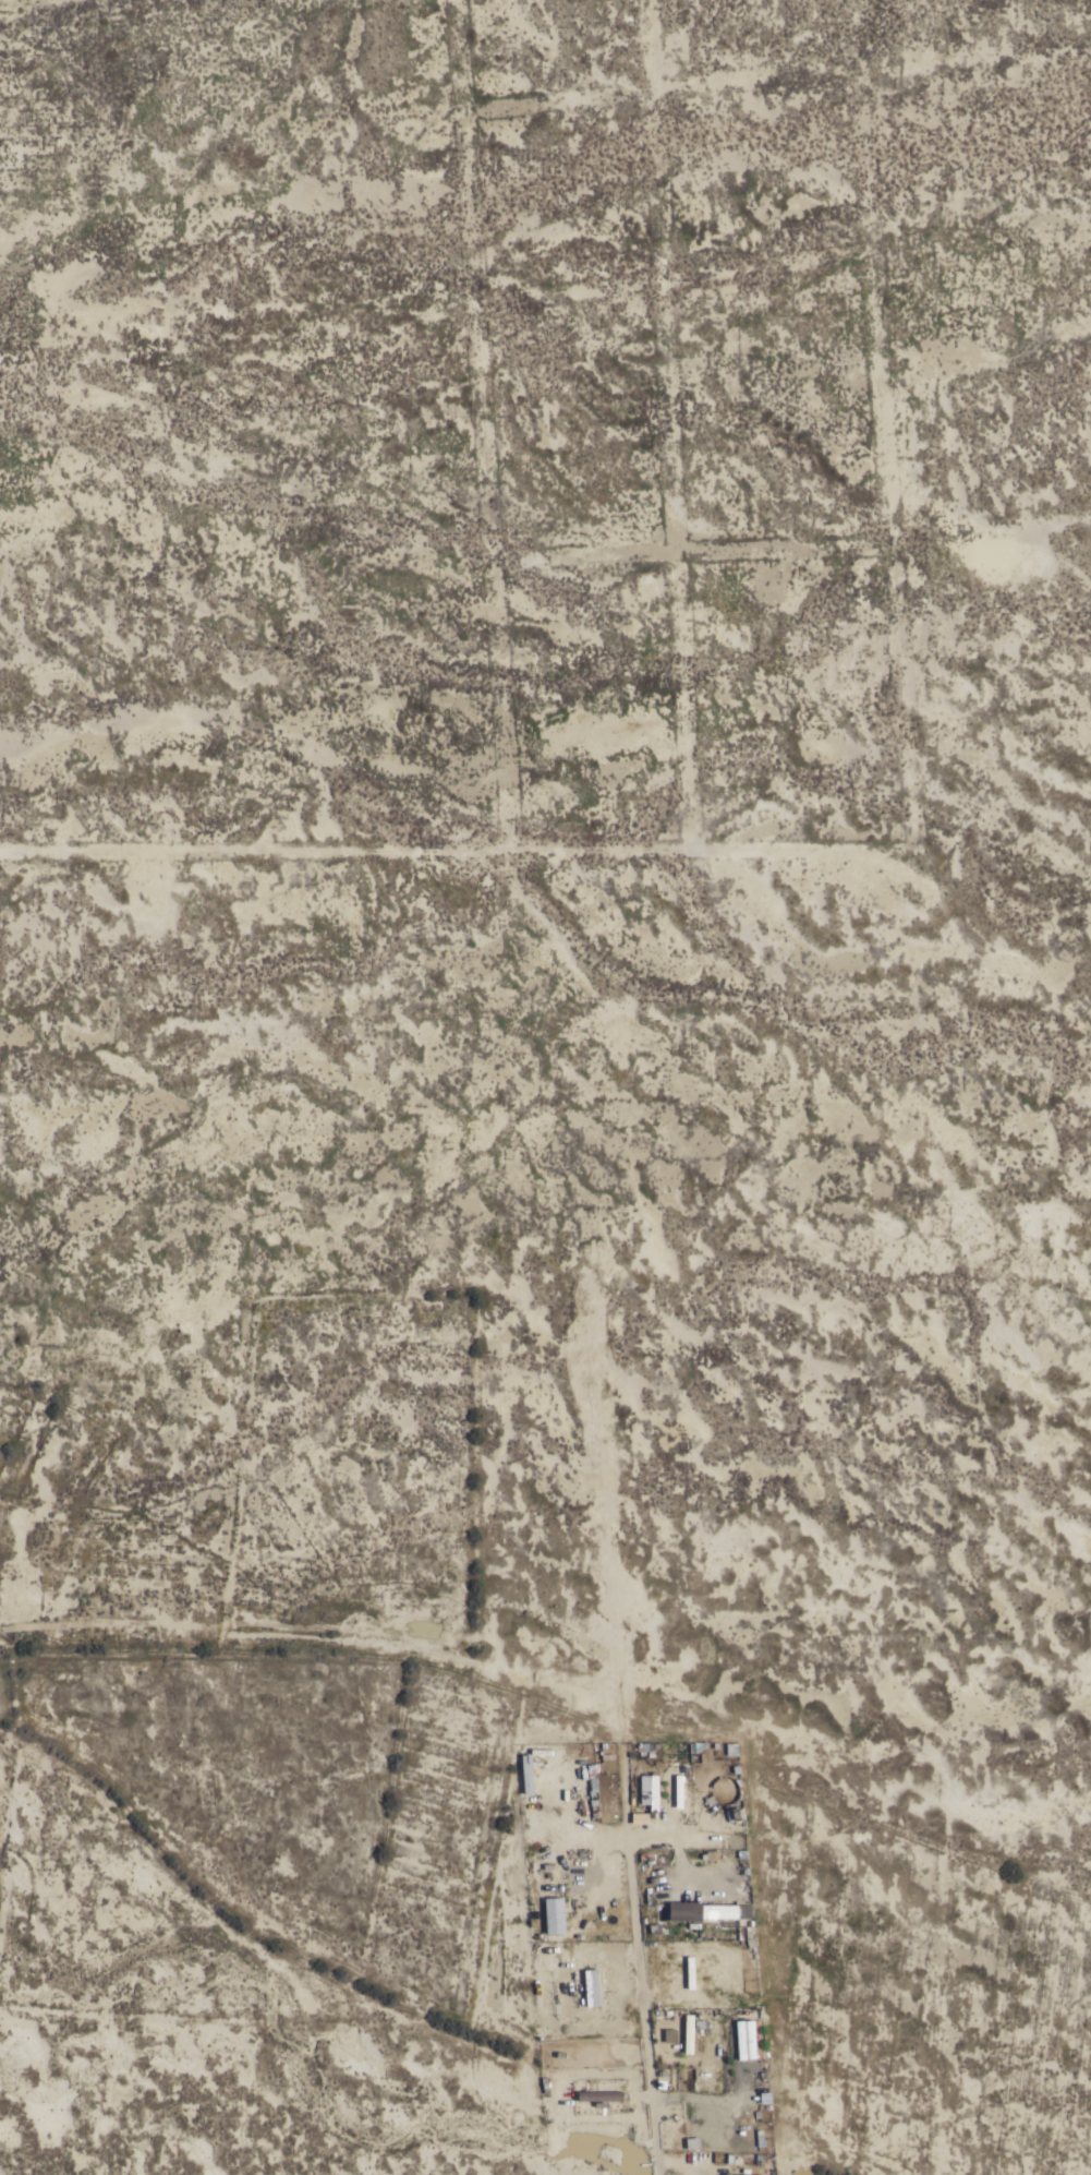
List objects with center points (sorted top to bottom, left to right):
building: (712, 1912)
building: (556, 1916)
road: (641, 1983)
building: (592, 1988)
building: (745, 2041)
building: (602, 2096)

